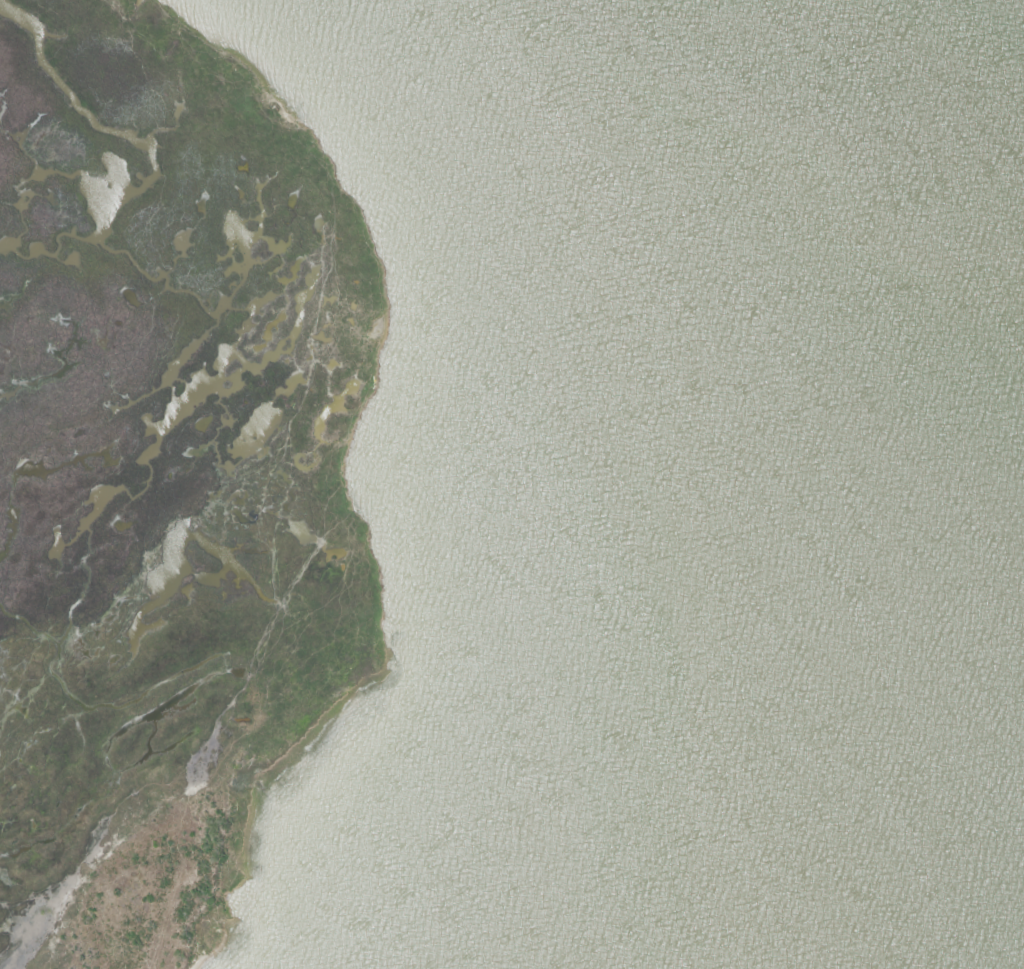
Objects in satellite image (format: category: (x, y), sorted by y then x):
road: (109, 849)

